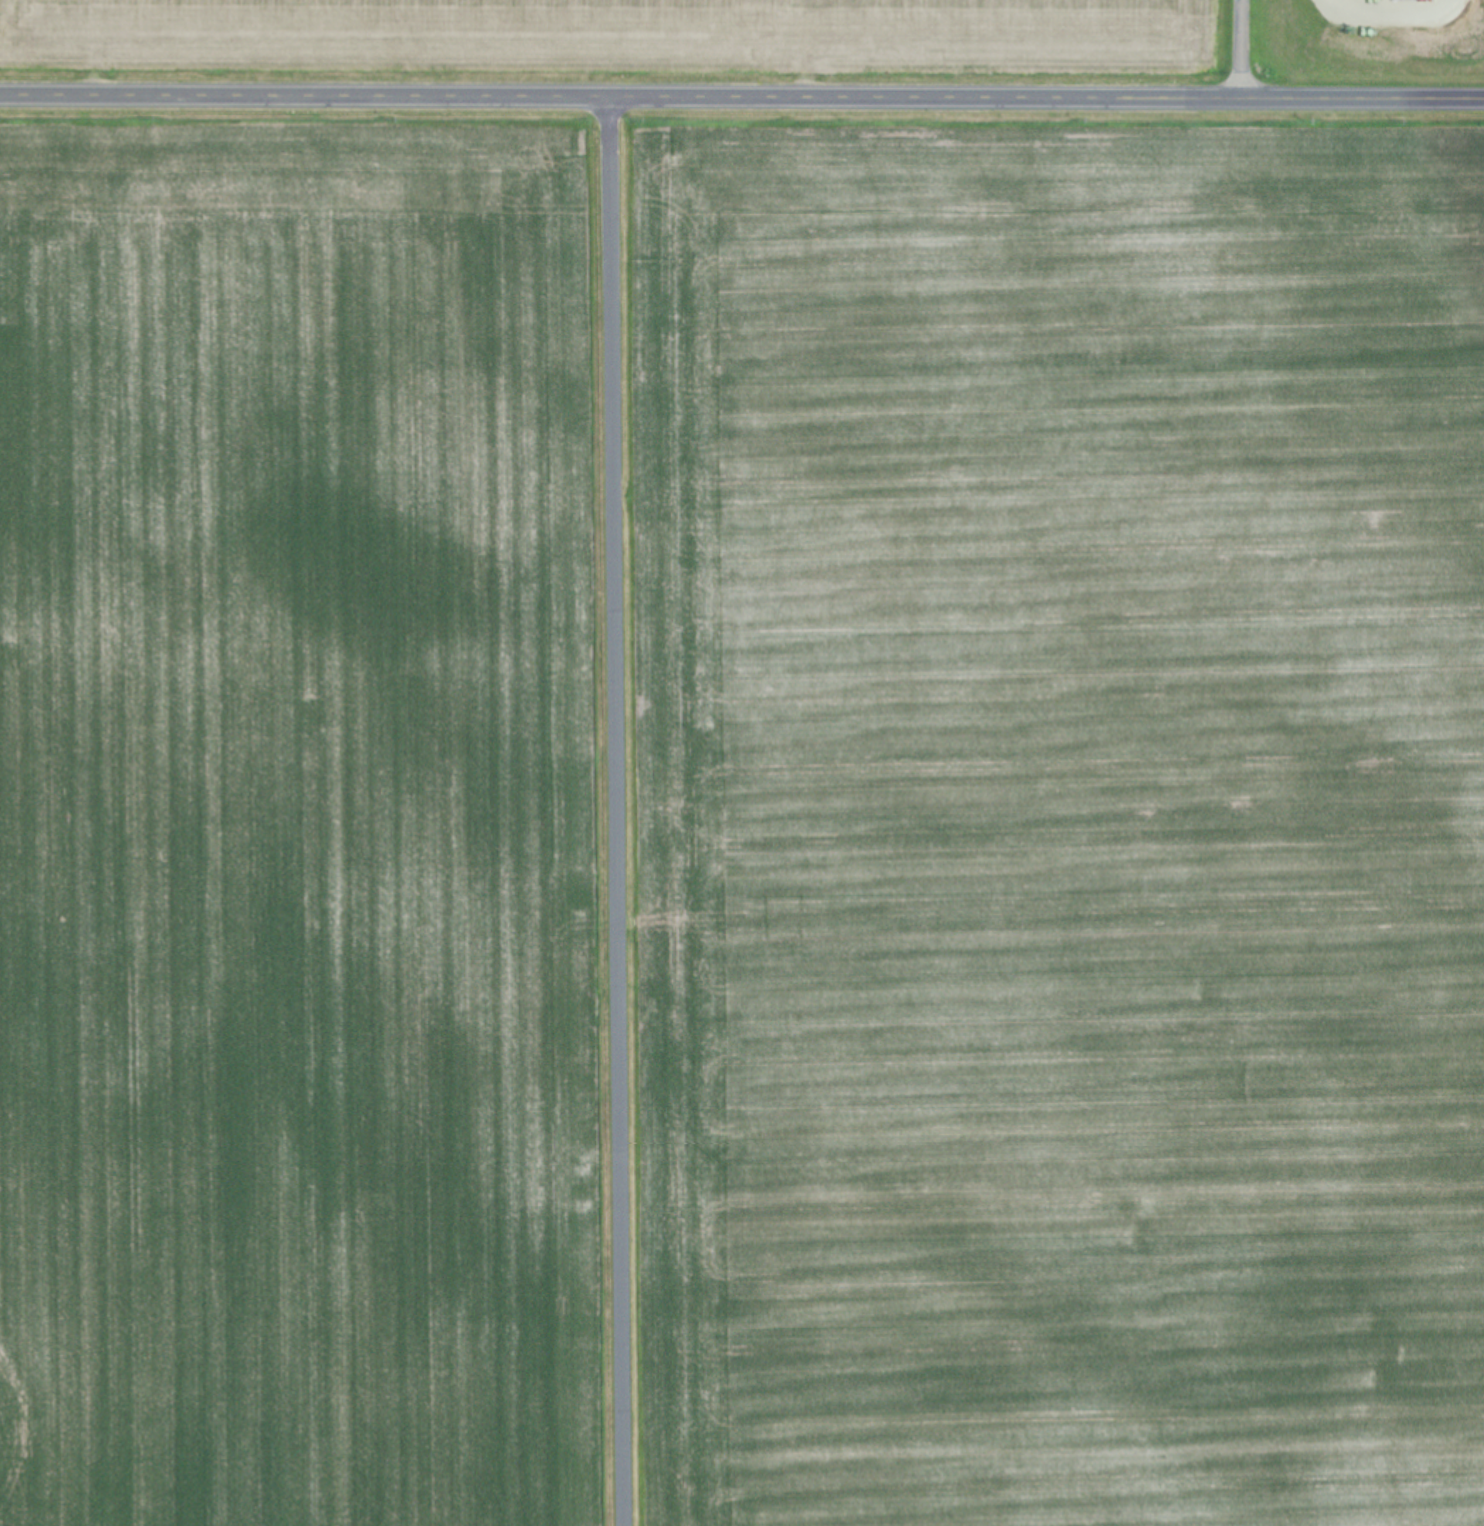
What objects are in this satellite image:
road: (1243, 49)
road: (742, 95)
road: (618, 810)

